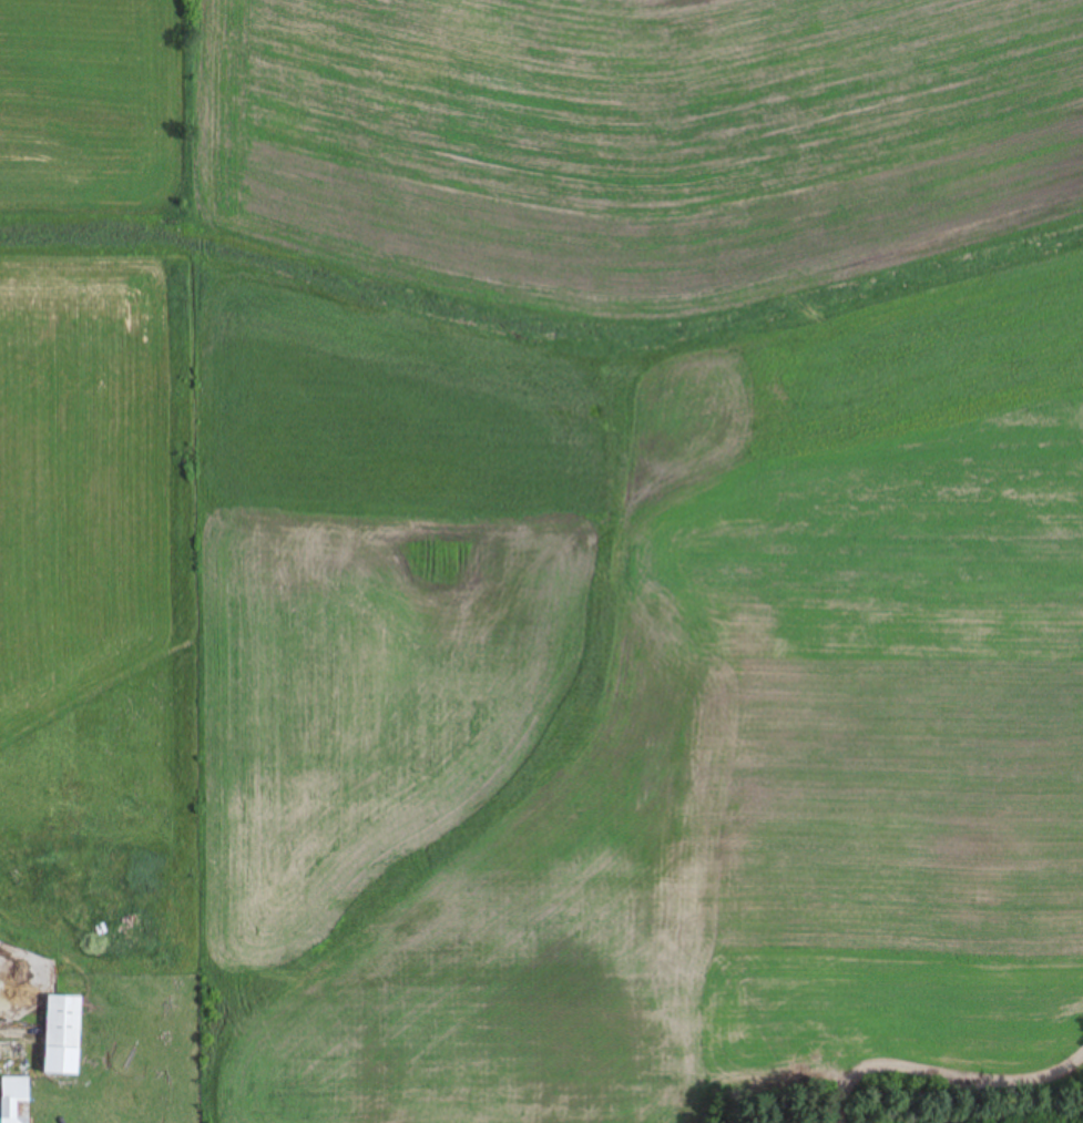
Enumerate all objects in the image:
building: (63, 1035)
building: (16, 1100)

